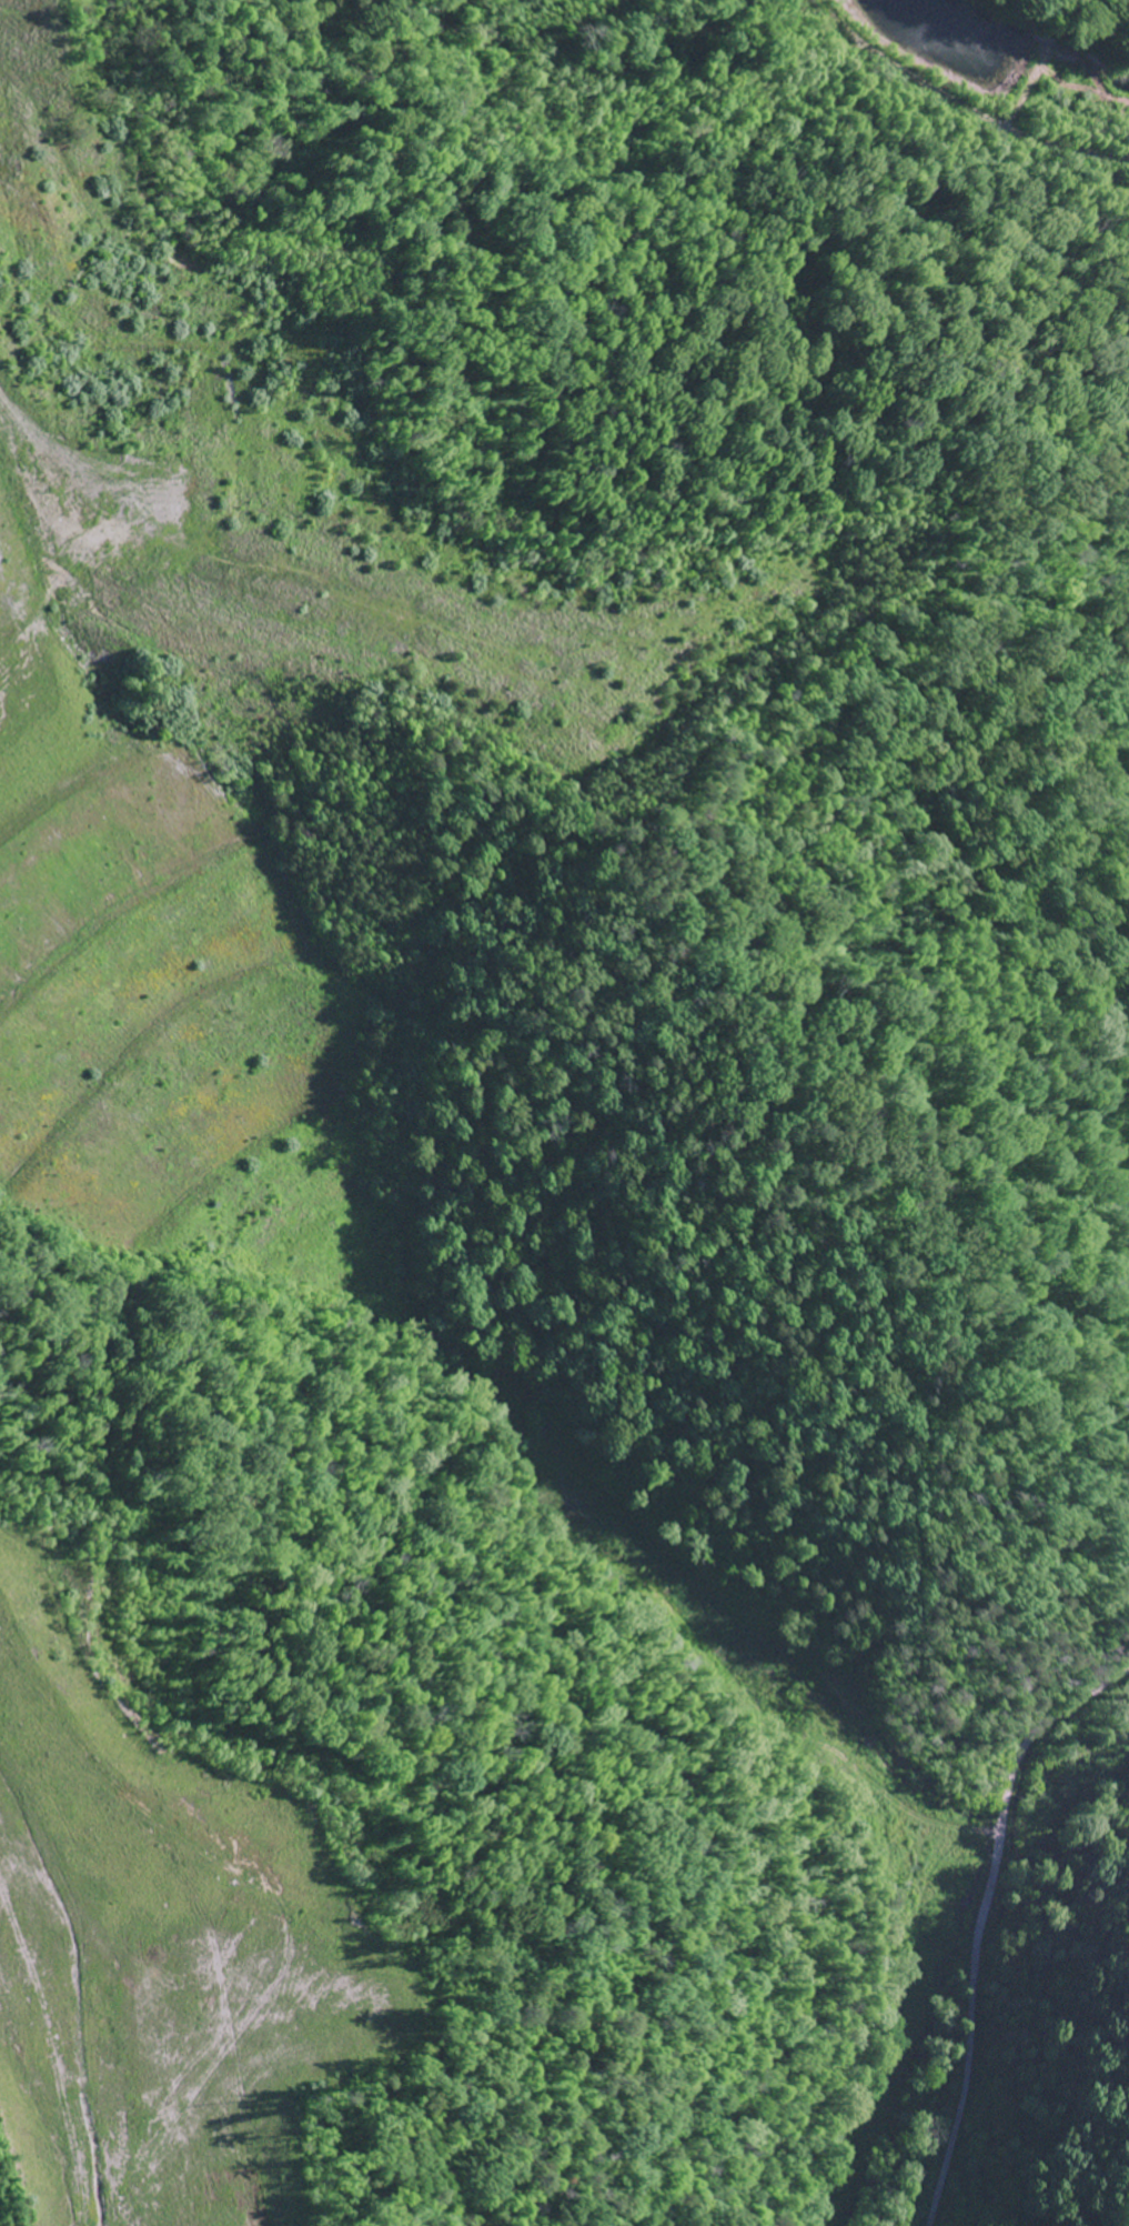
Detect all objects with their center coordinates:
road: (1113, 157)
road: (982, 1922)

